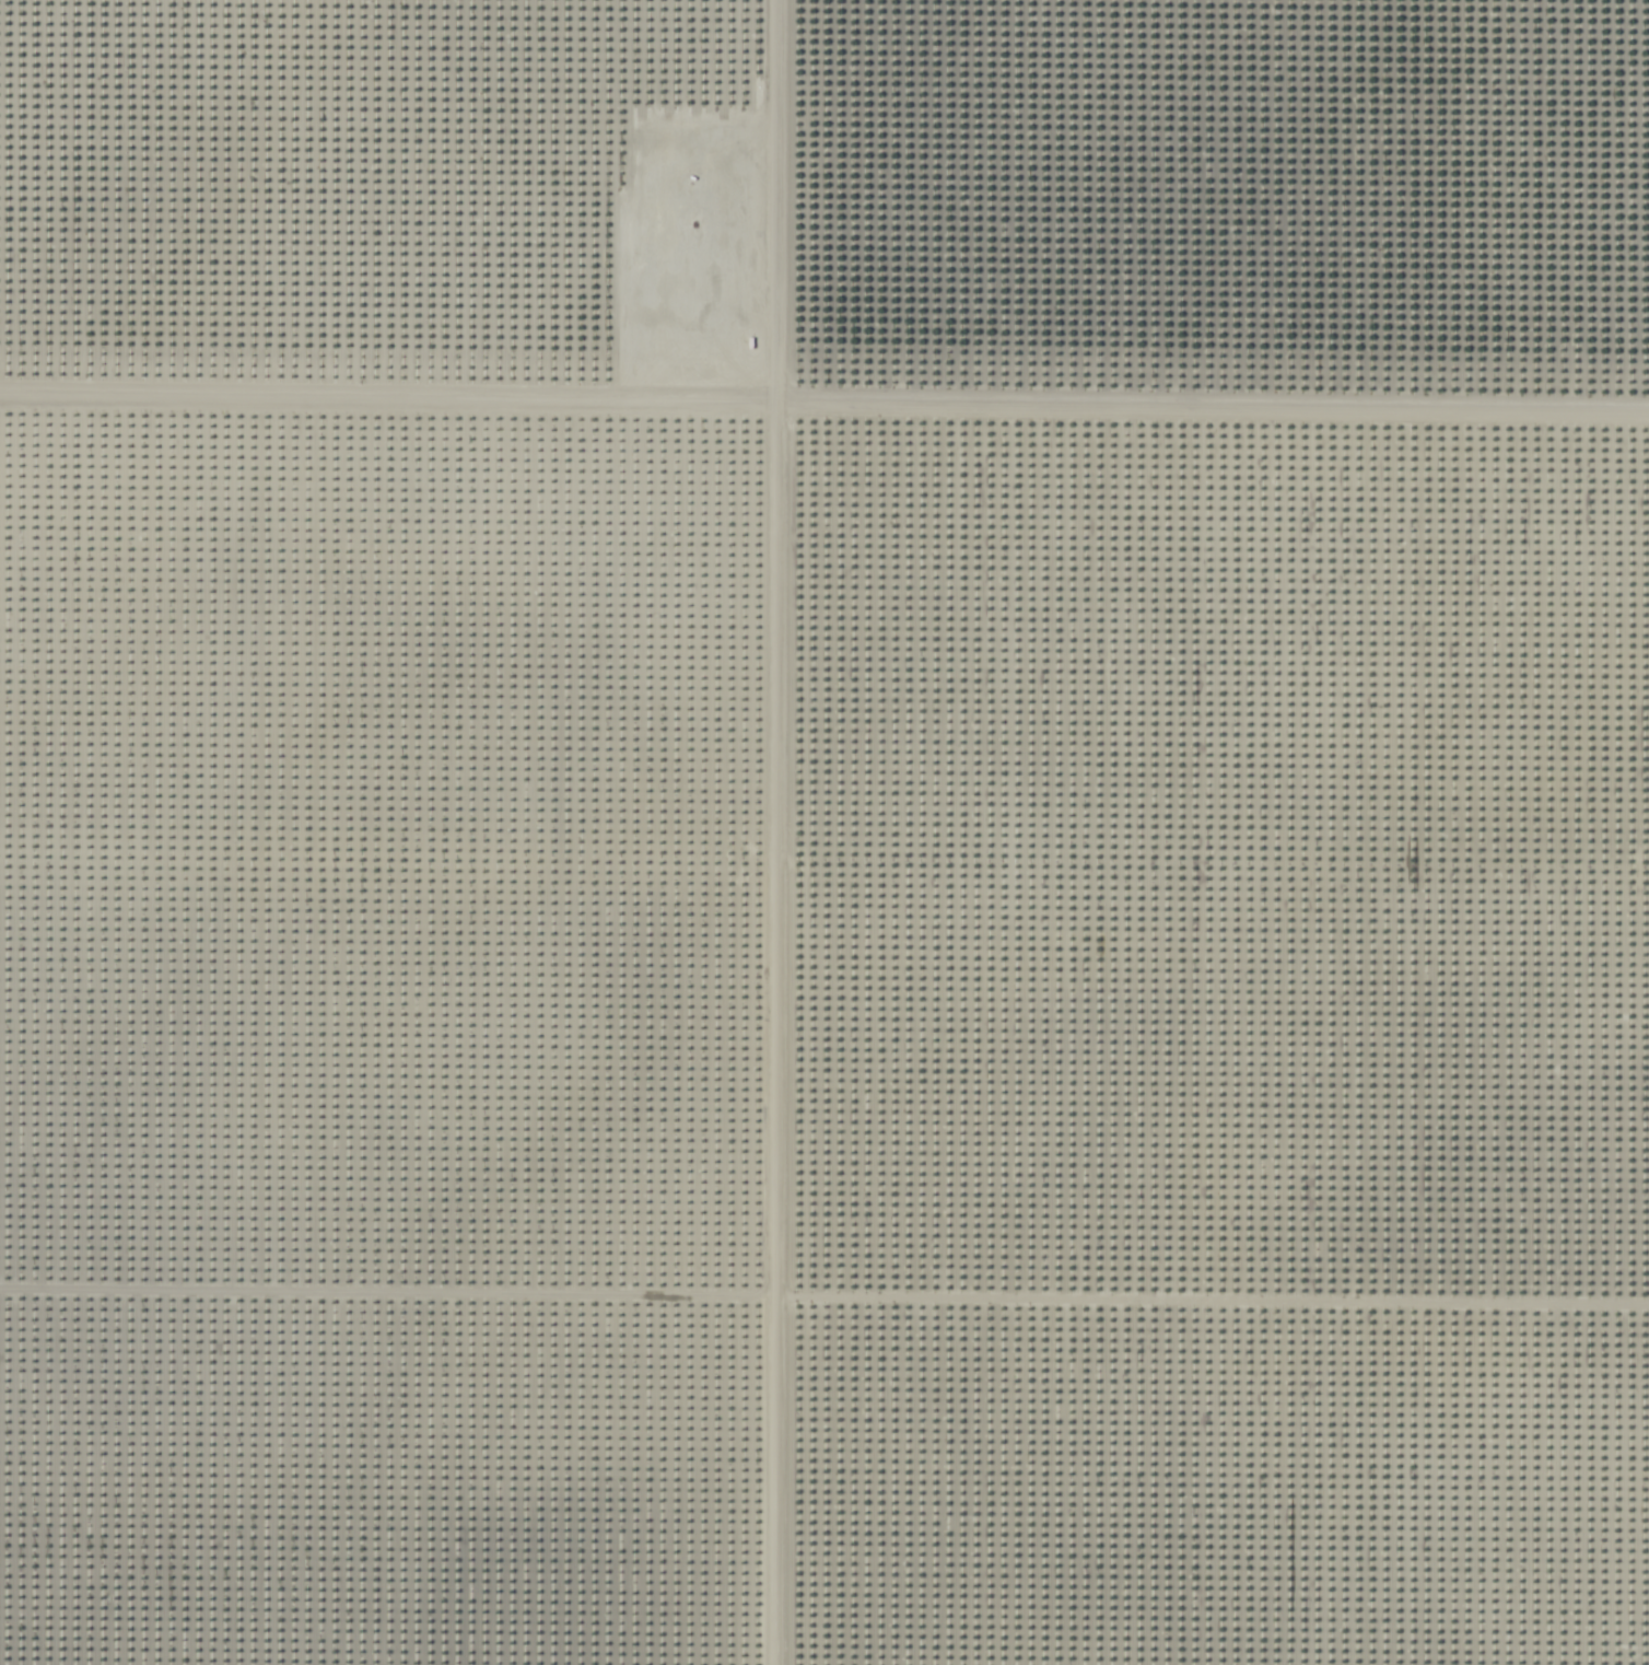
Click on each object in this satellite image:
road: (823, 400)
road: (773, 831)
crop: (824, 832)

